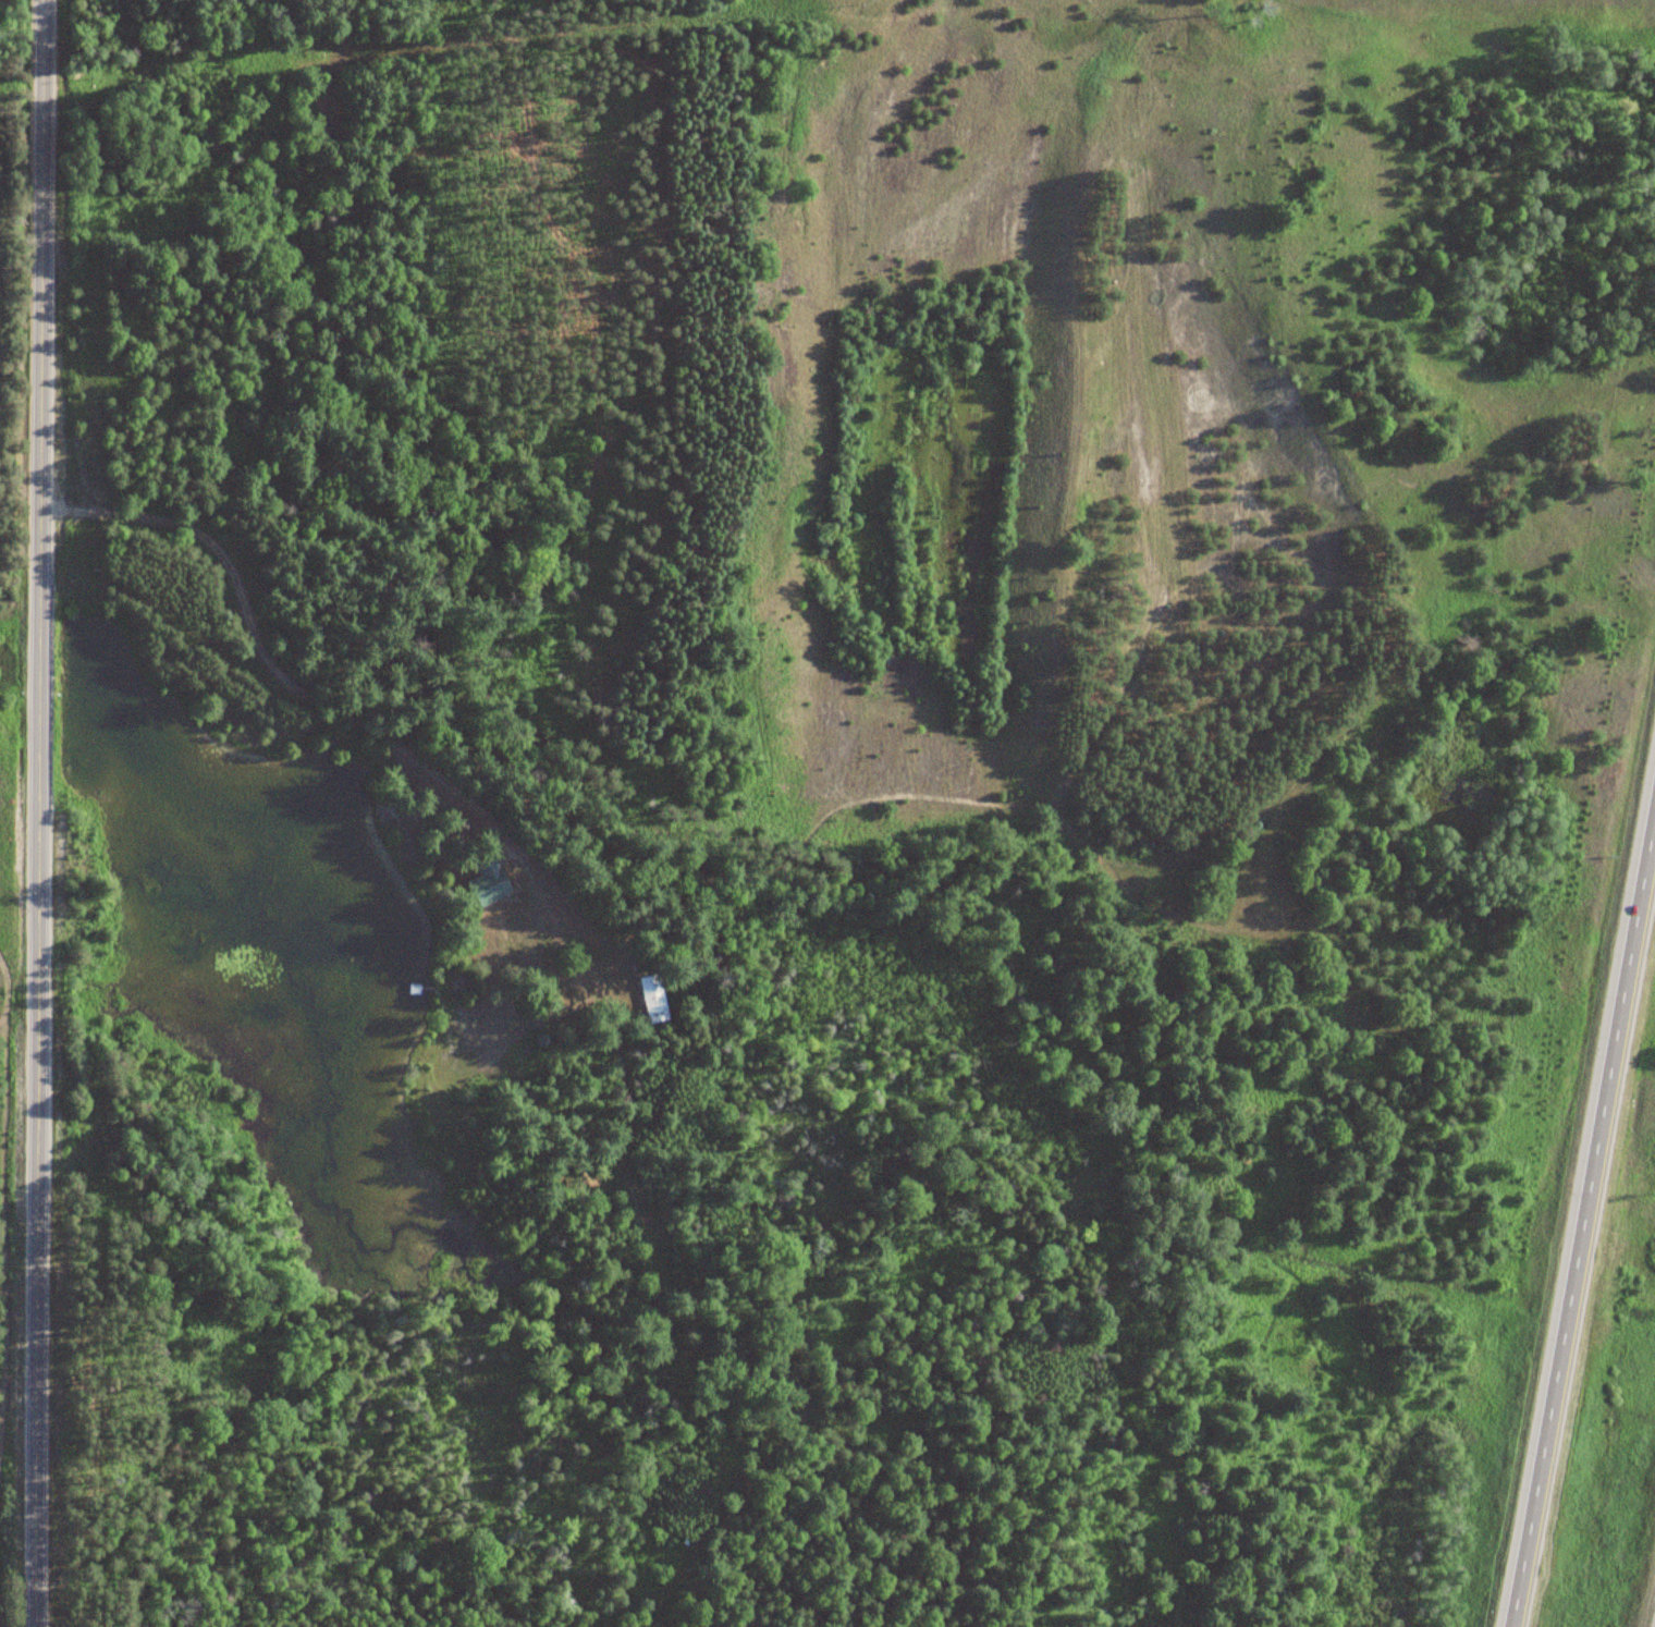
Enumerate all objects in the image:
road: (39, 813)
building: (486, 882)
building: (652, 998)
road: (1582, 1219)

